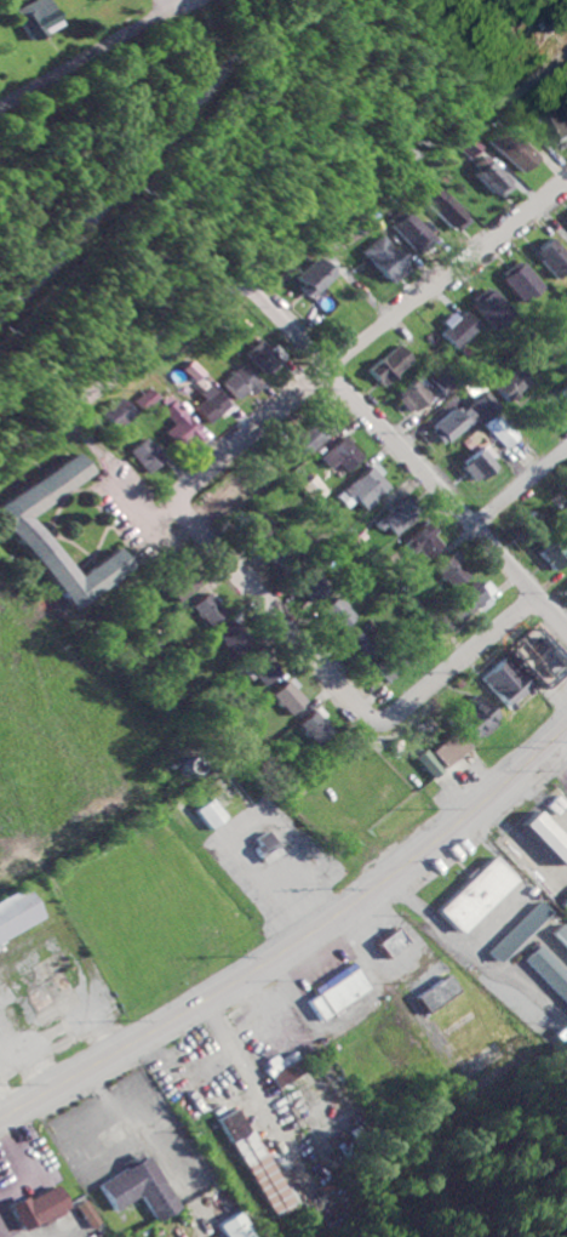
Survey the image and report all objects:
road: (162, 6)
building: (31, 17)
road: (93, 50)
building: (555, 121)
building: (520, 149)
road: (144, 160)
building: (498, 176)
building: (453, 209)
building: (566, 218)
building: (418, 232)
building: (552, 257)
building: (390, 258)
road: (285, 260)
building: (319, 275)
building: (520, 280)
building: (491, 307)
building: (457, 329)
road: (371, 337)
building: (264, 357)
building: (390, 364)
building: (196, 370)
building: (242, 382)
building: (442, 382)
building: (510, 382)
building: (563, 392)
building: (412, 395)
building: (149, 399)
building: (211, 404)
building: (481, 405)
building: (122, 412)
building: (181, 423)
building: (451, 423)
building: (500, 429)
building: (311, 437)
building: (340, 454)
building: (147, 455)
road: (409, 457)
building: (477, 463)
road: (122, 483)
building: (313, 488)
building: (363, 488)
road: (521, 490)
building: (395, 518)
building: (258, 520)
building: (529, 525)
building: (29, 531)
building: (423, 541)
building: (552, 554)
building: (451, 570)
building: (182, 585)
building: (309, 586)
building: (566, 593)
building: (468, 599)
building: (208, 609)
building: (337, 612)
building: (234, 638)
building: (365, 643)
building: (533, 657)
building: (390, 667)
building: (260, 668)
building: (505, 683)
road: (340, 689)
building: (287, 697)
building: (475, 717)
building: (313, 724)
building: (447, 748)
building: (426, 763)
building: (222, 800)
building: (210, 813)
building: (544, 837)
building: (265, 846)
building: (472, 894)
building: (562, 906)
building: (16, 913)
road: (488, 922)
road: (440, 928)
building: (515, 931)
building: (560, 935)
road: (532, 939)
road: (297, 941)
building: (389, 942)
building: (548, 971)
road: (535, 988)
building: (334, 991)
building: (434, 993)
building: (280, 1068)
building: (253, 1162)
road: (27, 1164)
building: (138, 1186)
building: (38, 1207)
building: (87, 1214)
road: (6, 1226)
building: (233, 1226)
road: (69, 1236)

